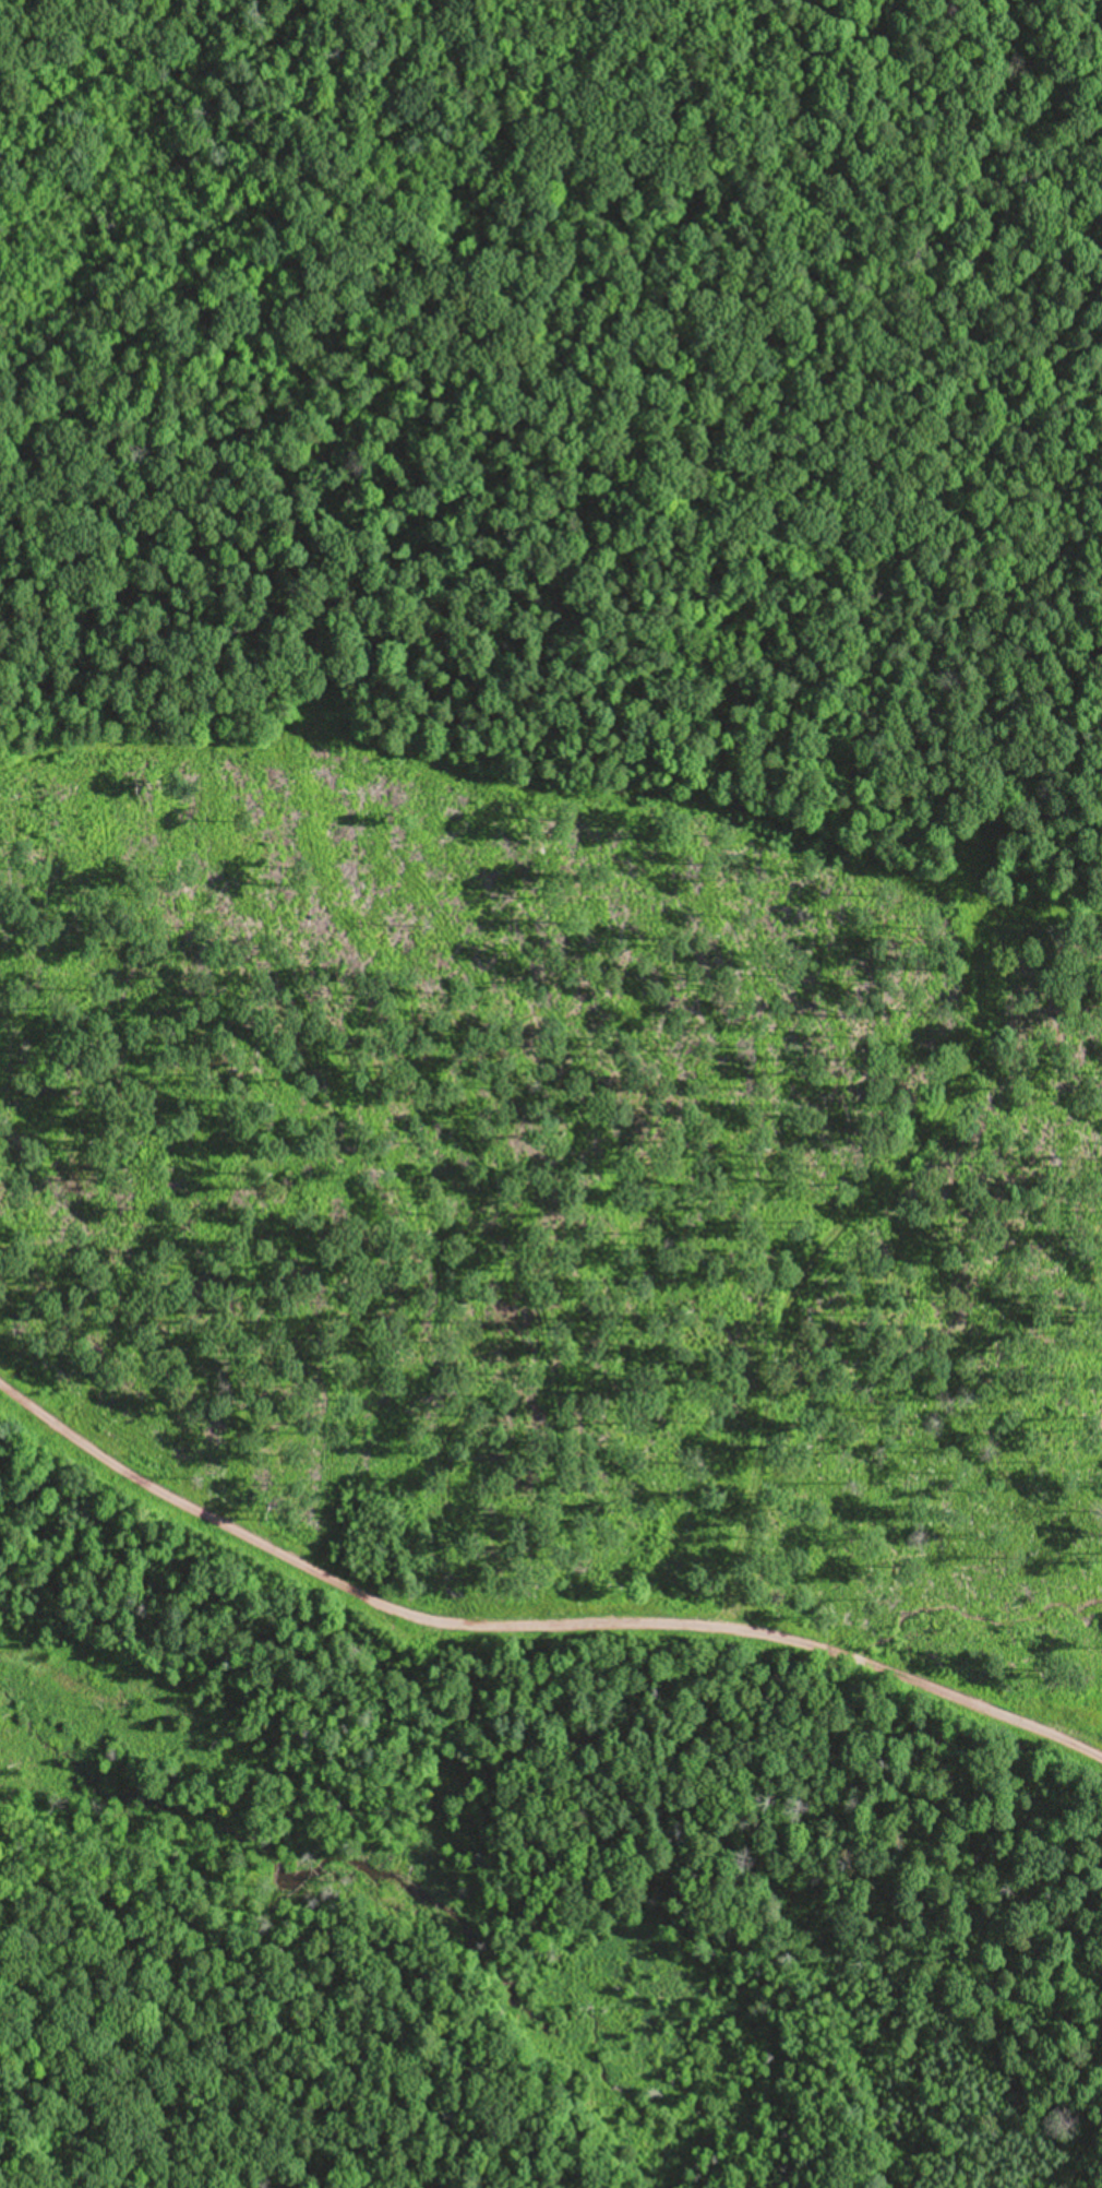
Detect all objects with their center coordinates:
road: (530, 1622)

